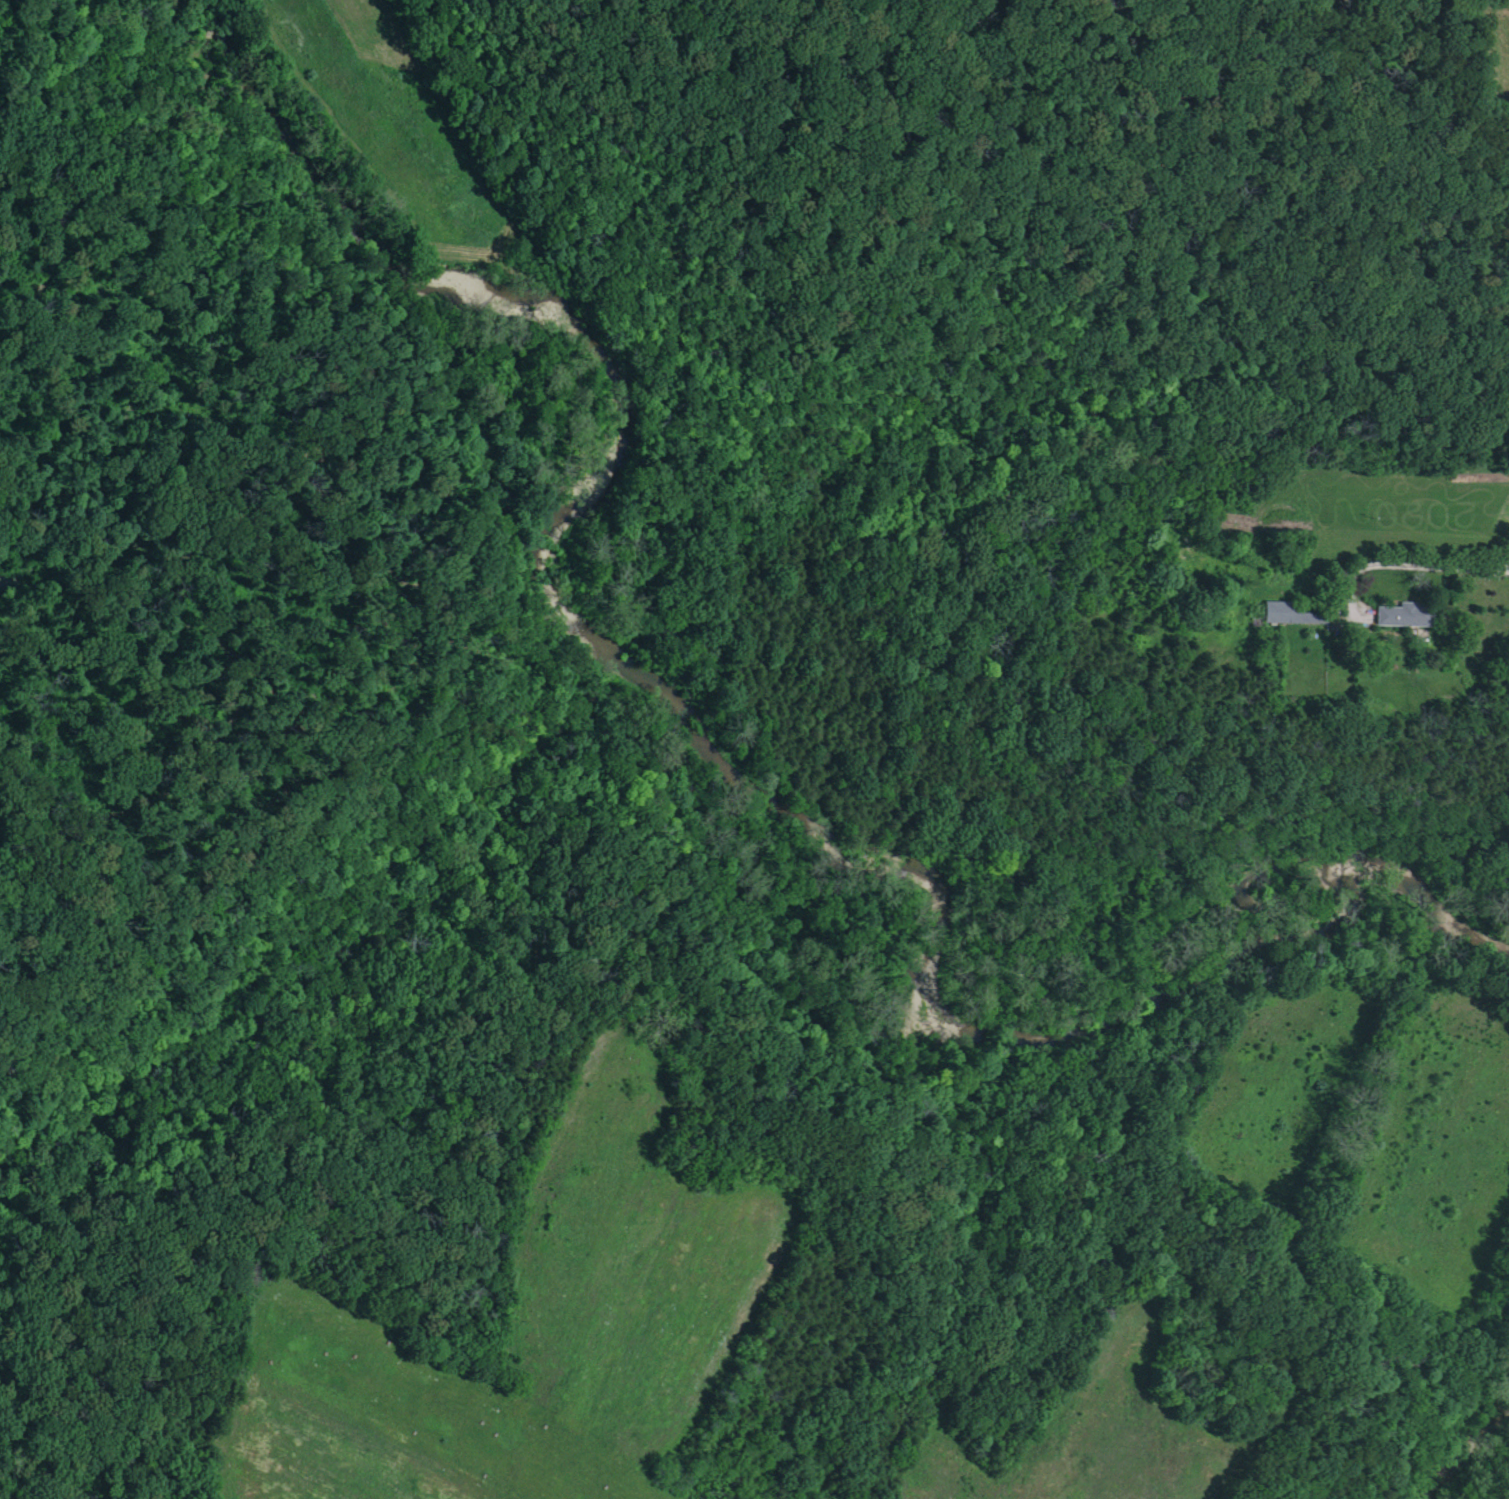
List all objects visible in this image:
road: (1389, 568)
building: (1282, 614)
building: (1408, 617)
river: (706, 762)
river: (1478, 1453)

